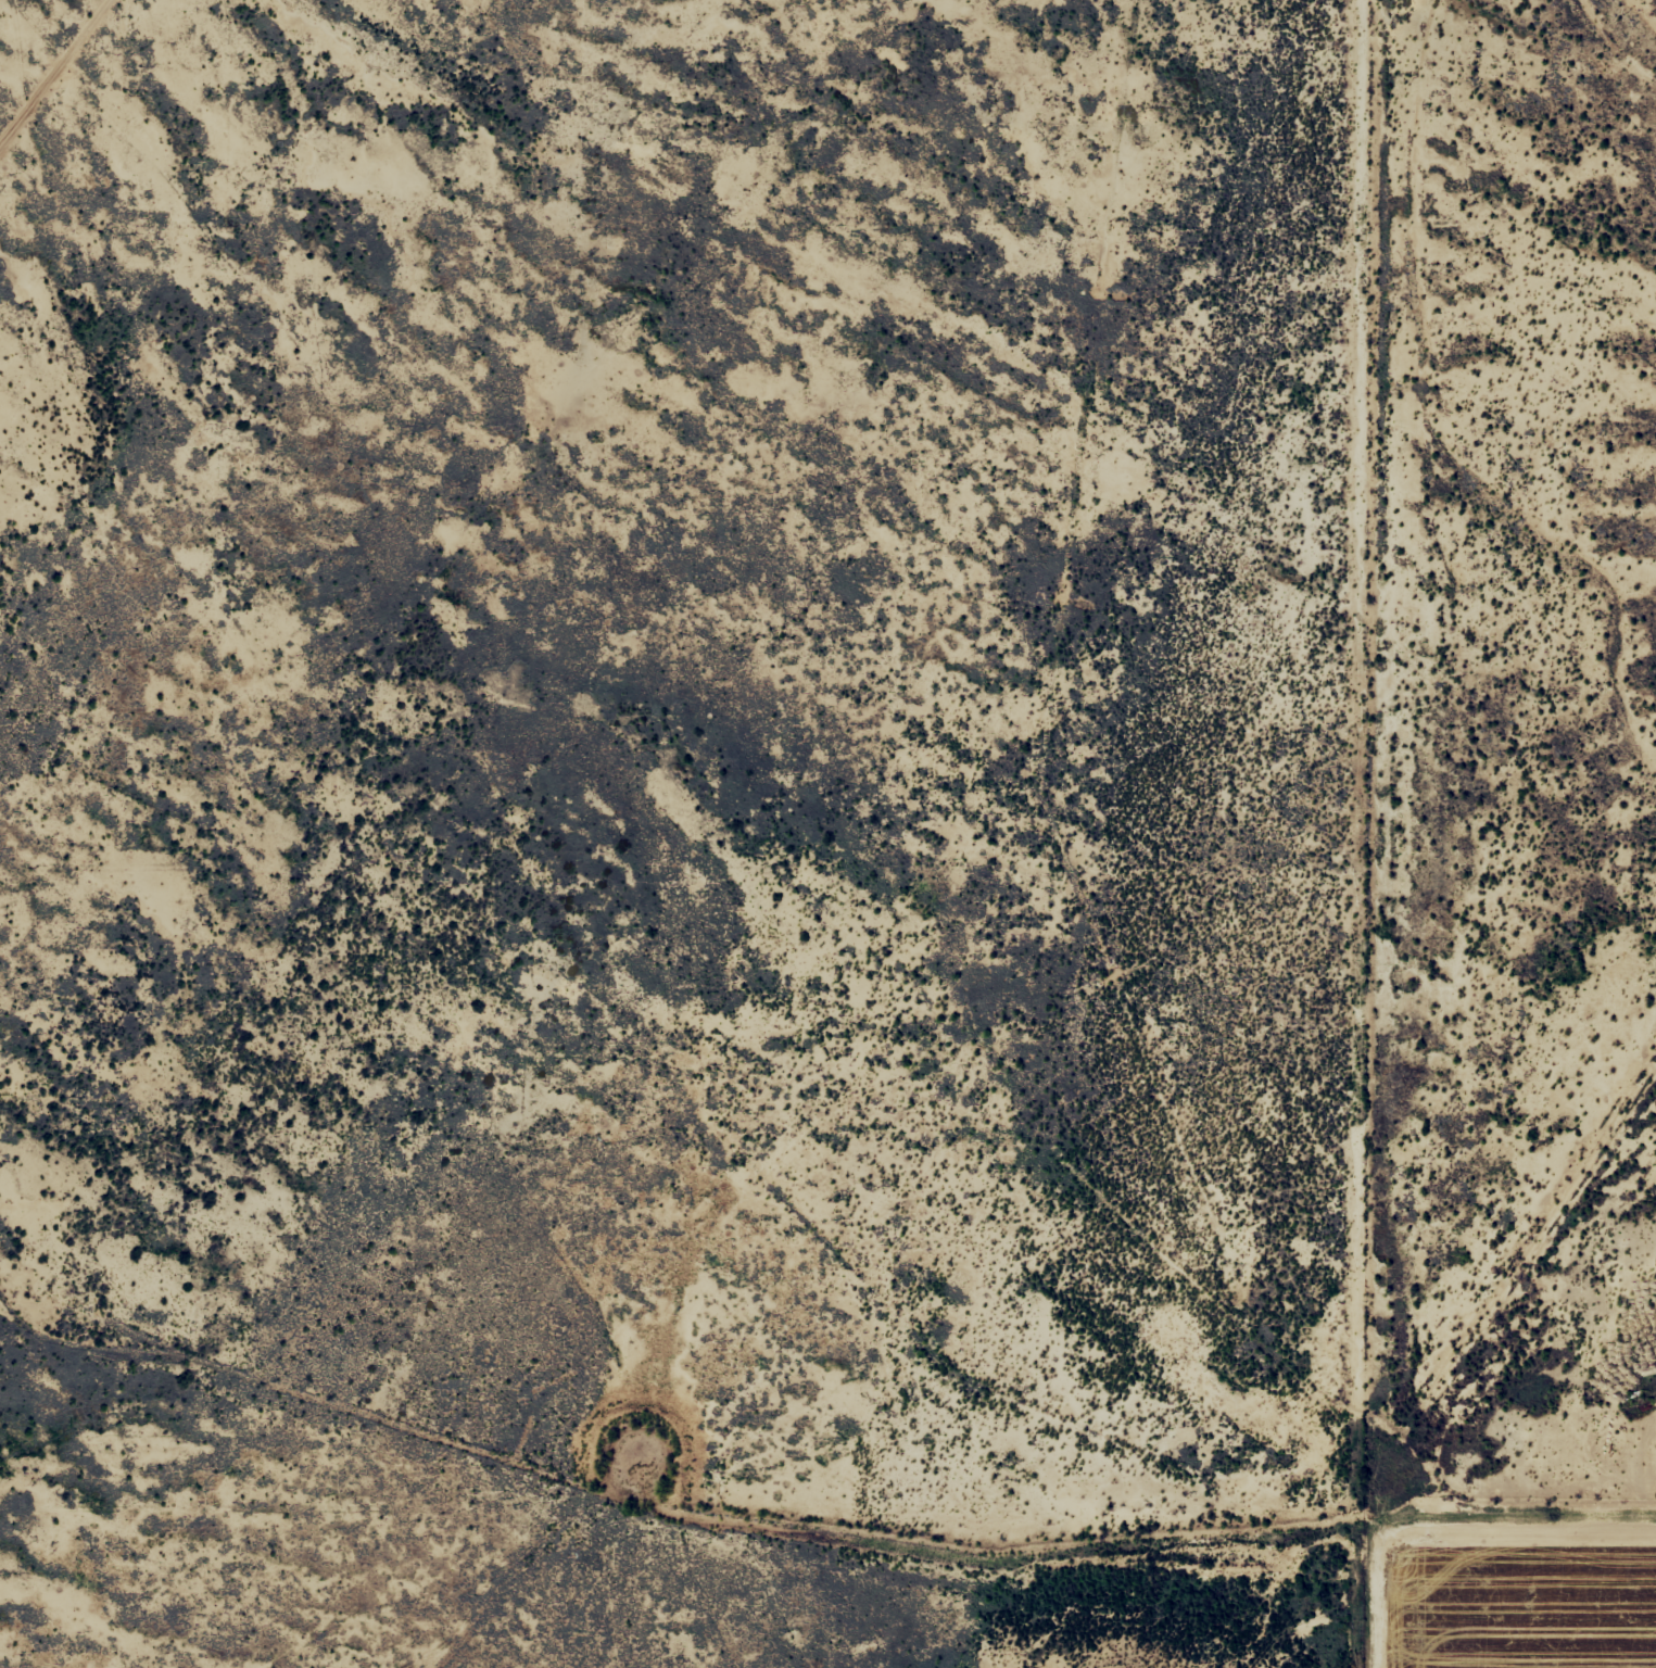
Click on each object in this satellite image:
road: (1541, 1575)

